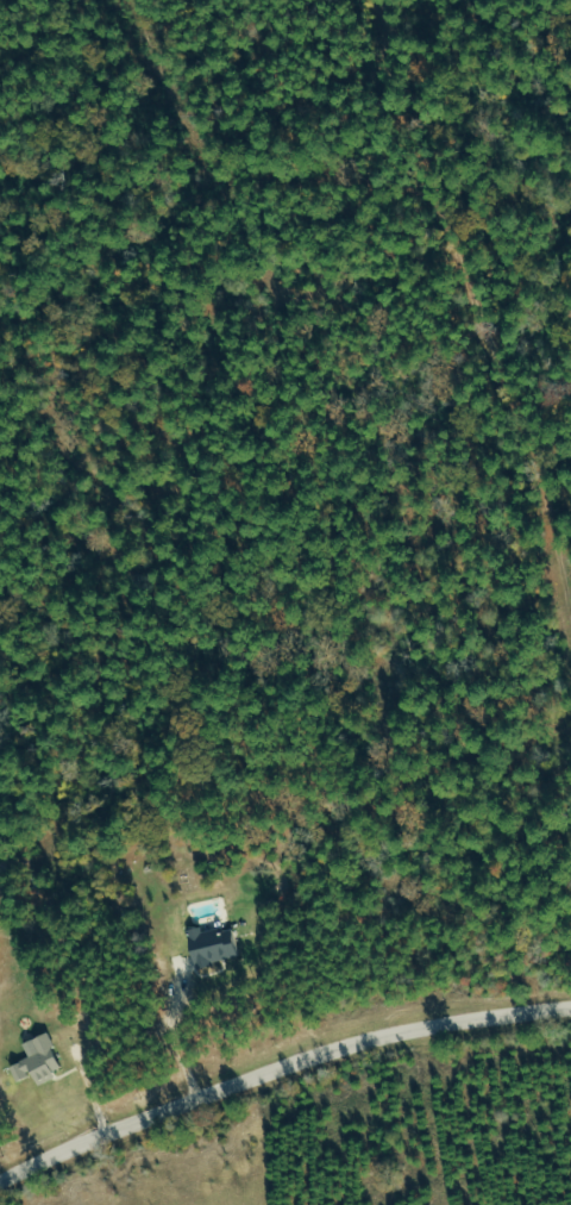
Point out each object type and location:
road: (299, 1113)

